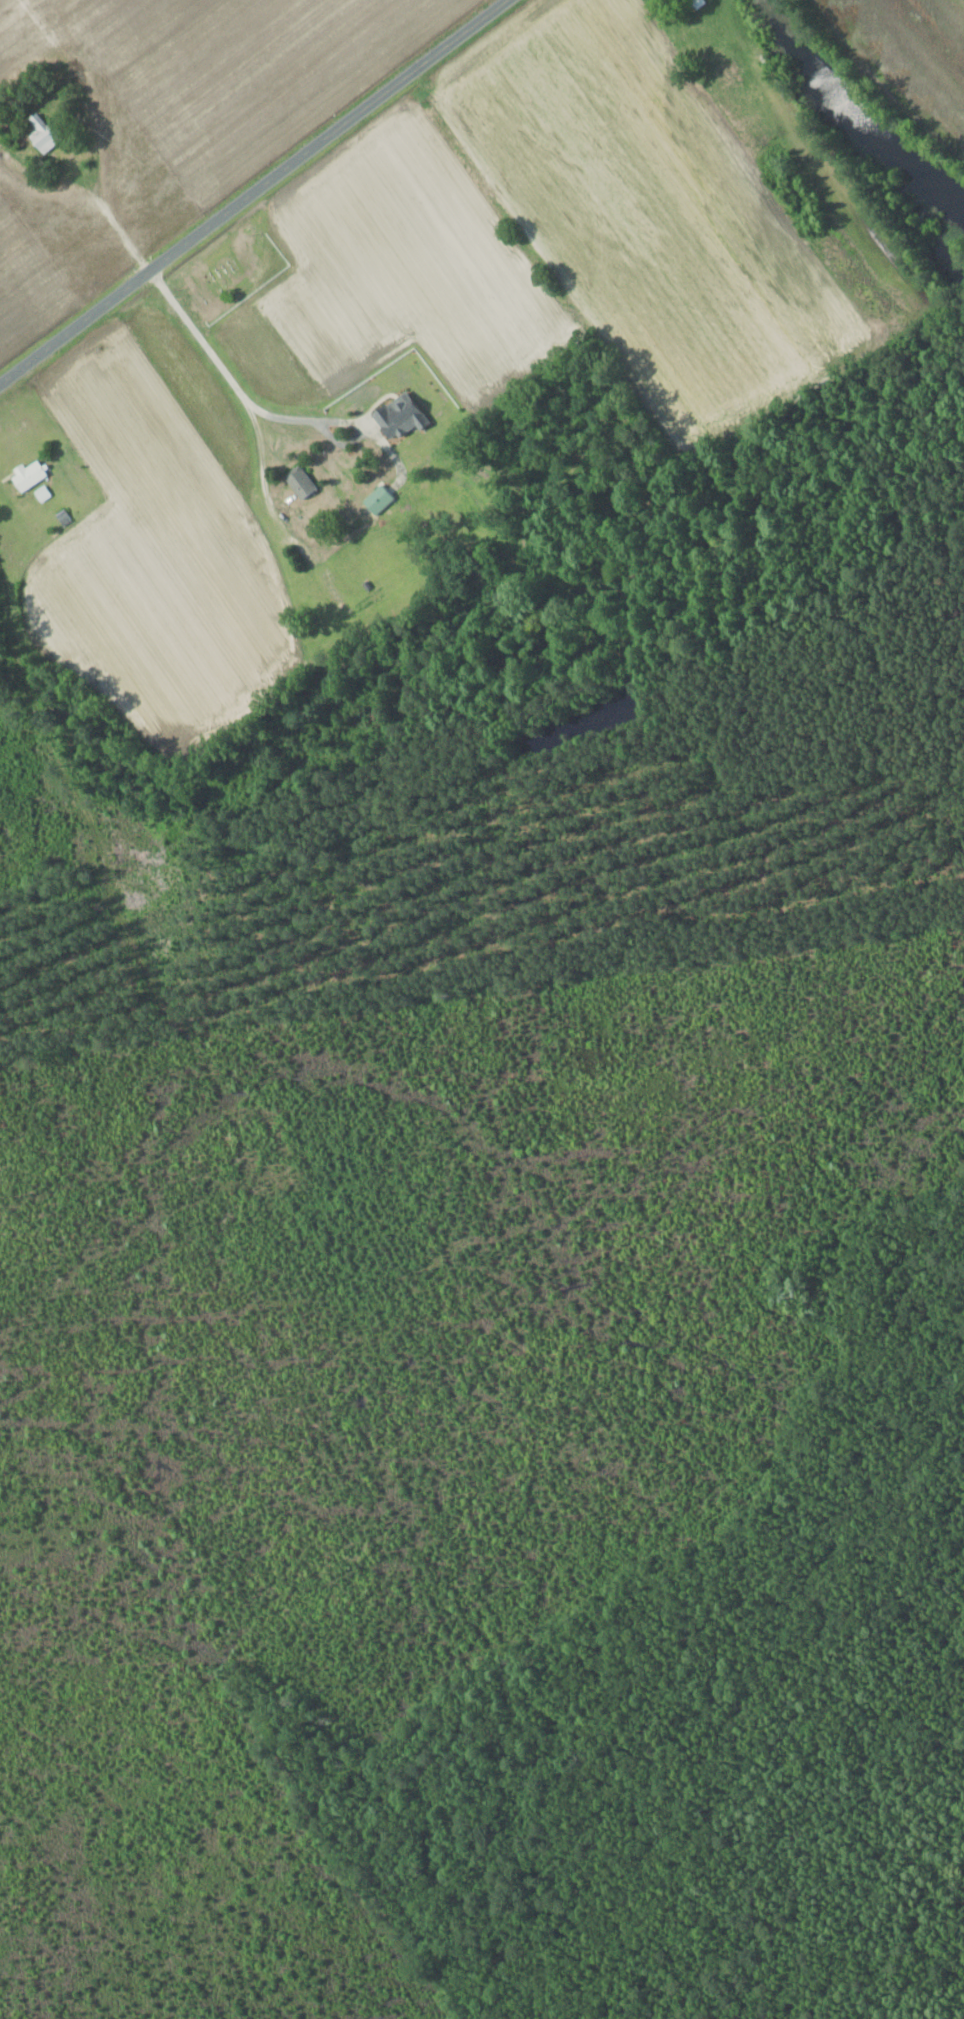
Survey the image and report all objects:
building: (696, 3)
building: (2, 122)
building: (41, 134)
road: (254, 192)
building: (396, 416)
building: (27, 475)
building: (299, 482)
building: (376, 499)
building: (330, 588)

